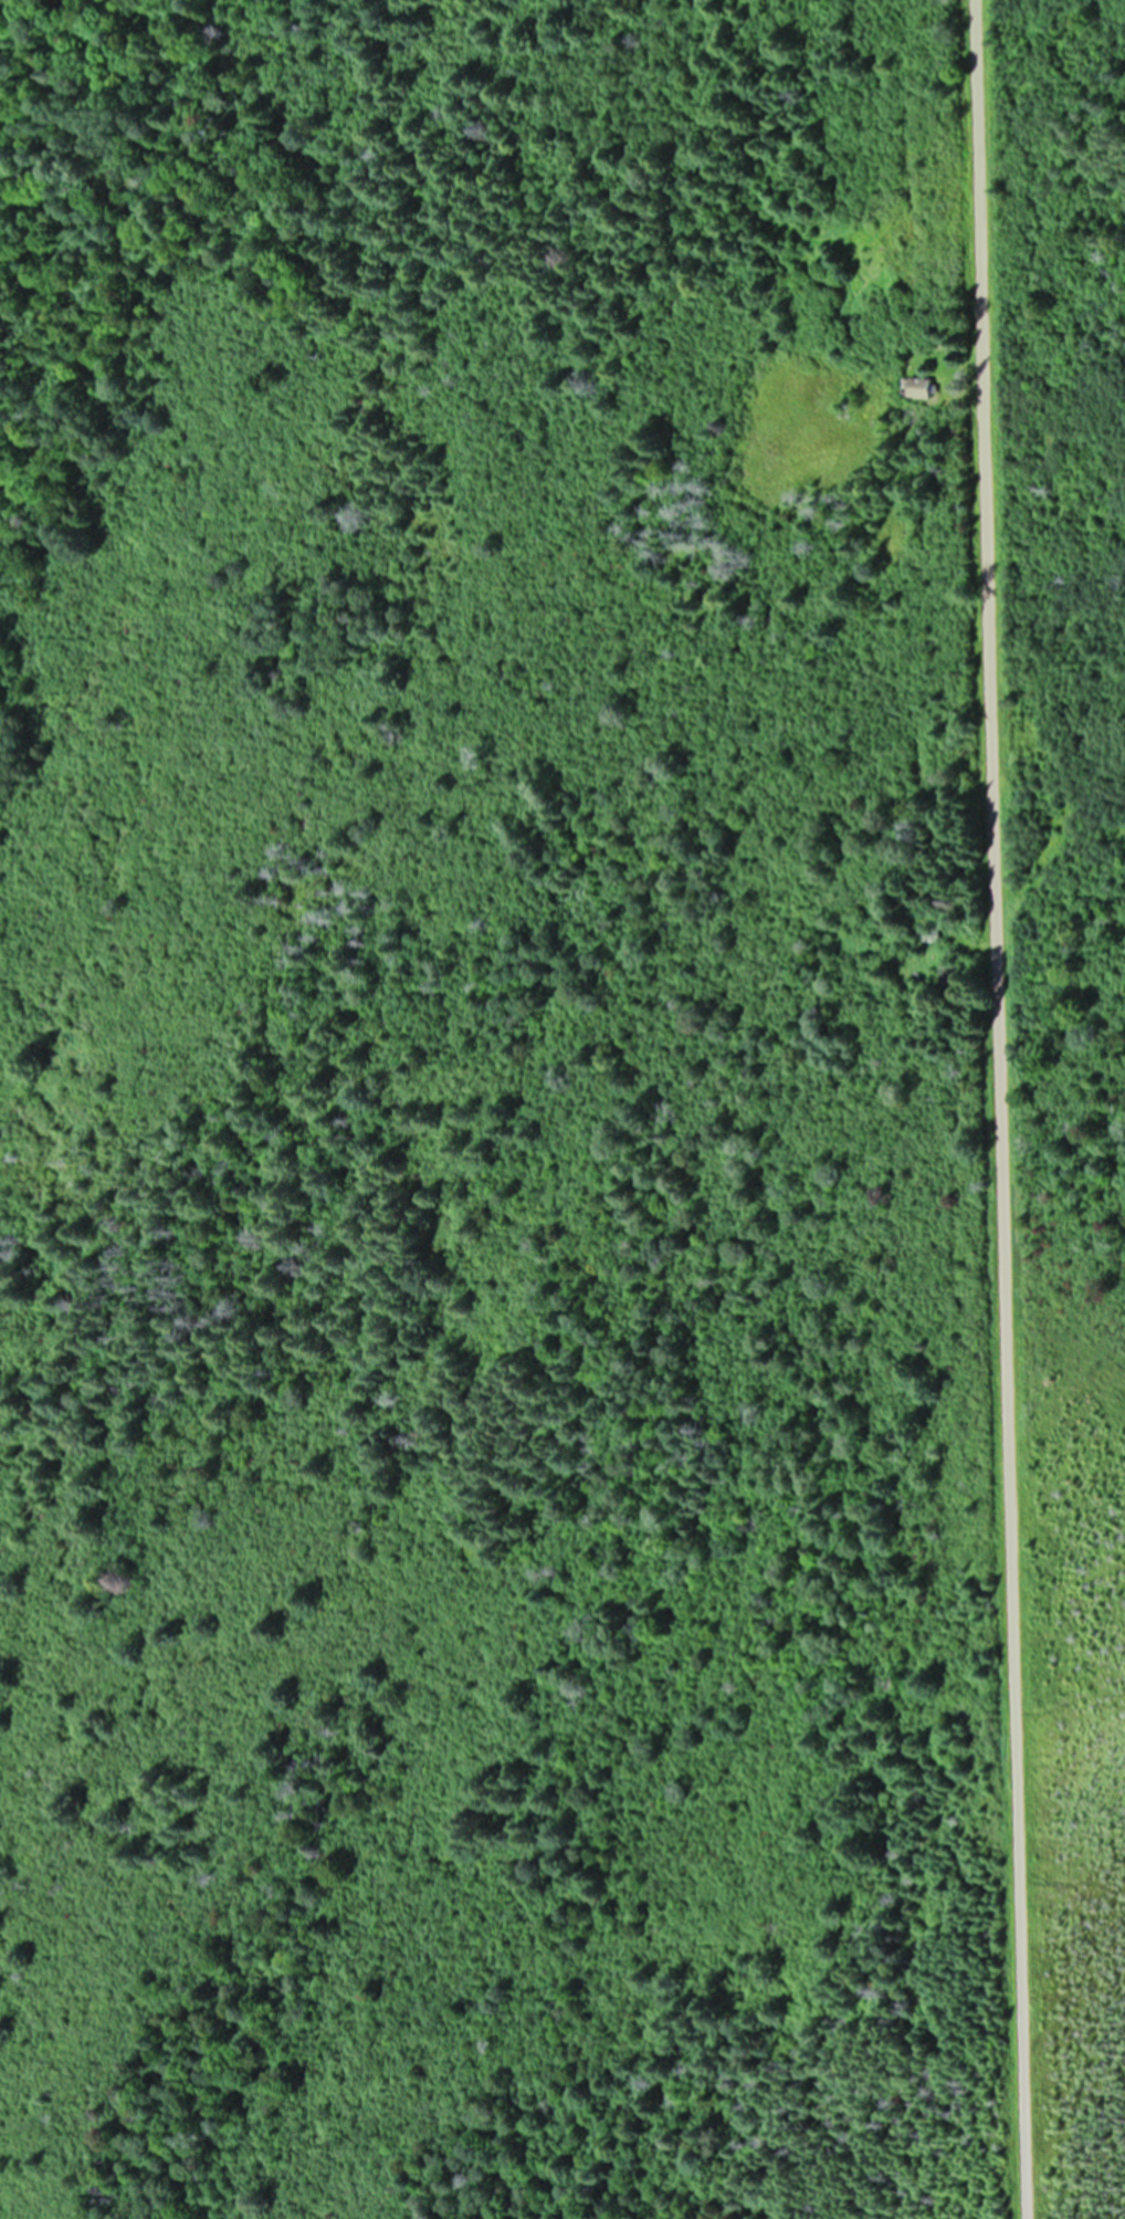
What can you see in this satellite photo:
building: (929, 936)
road: (979, 1109)

